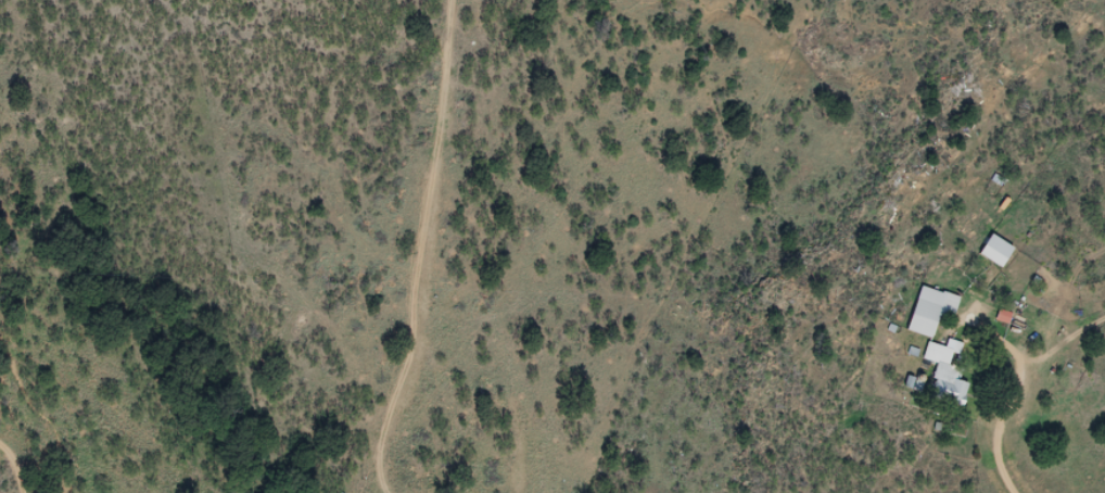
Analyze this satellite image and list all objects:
building: (998, 250)
road: (410, 257)
building: (932, 309)
building: (947, 374)
road: (0, 492)

